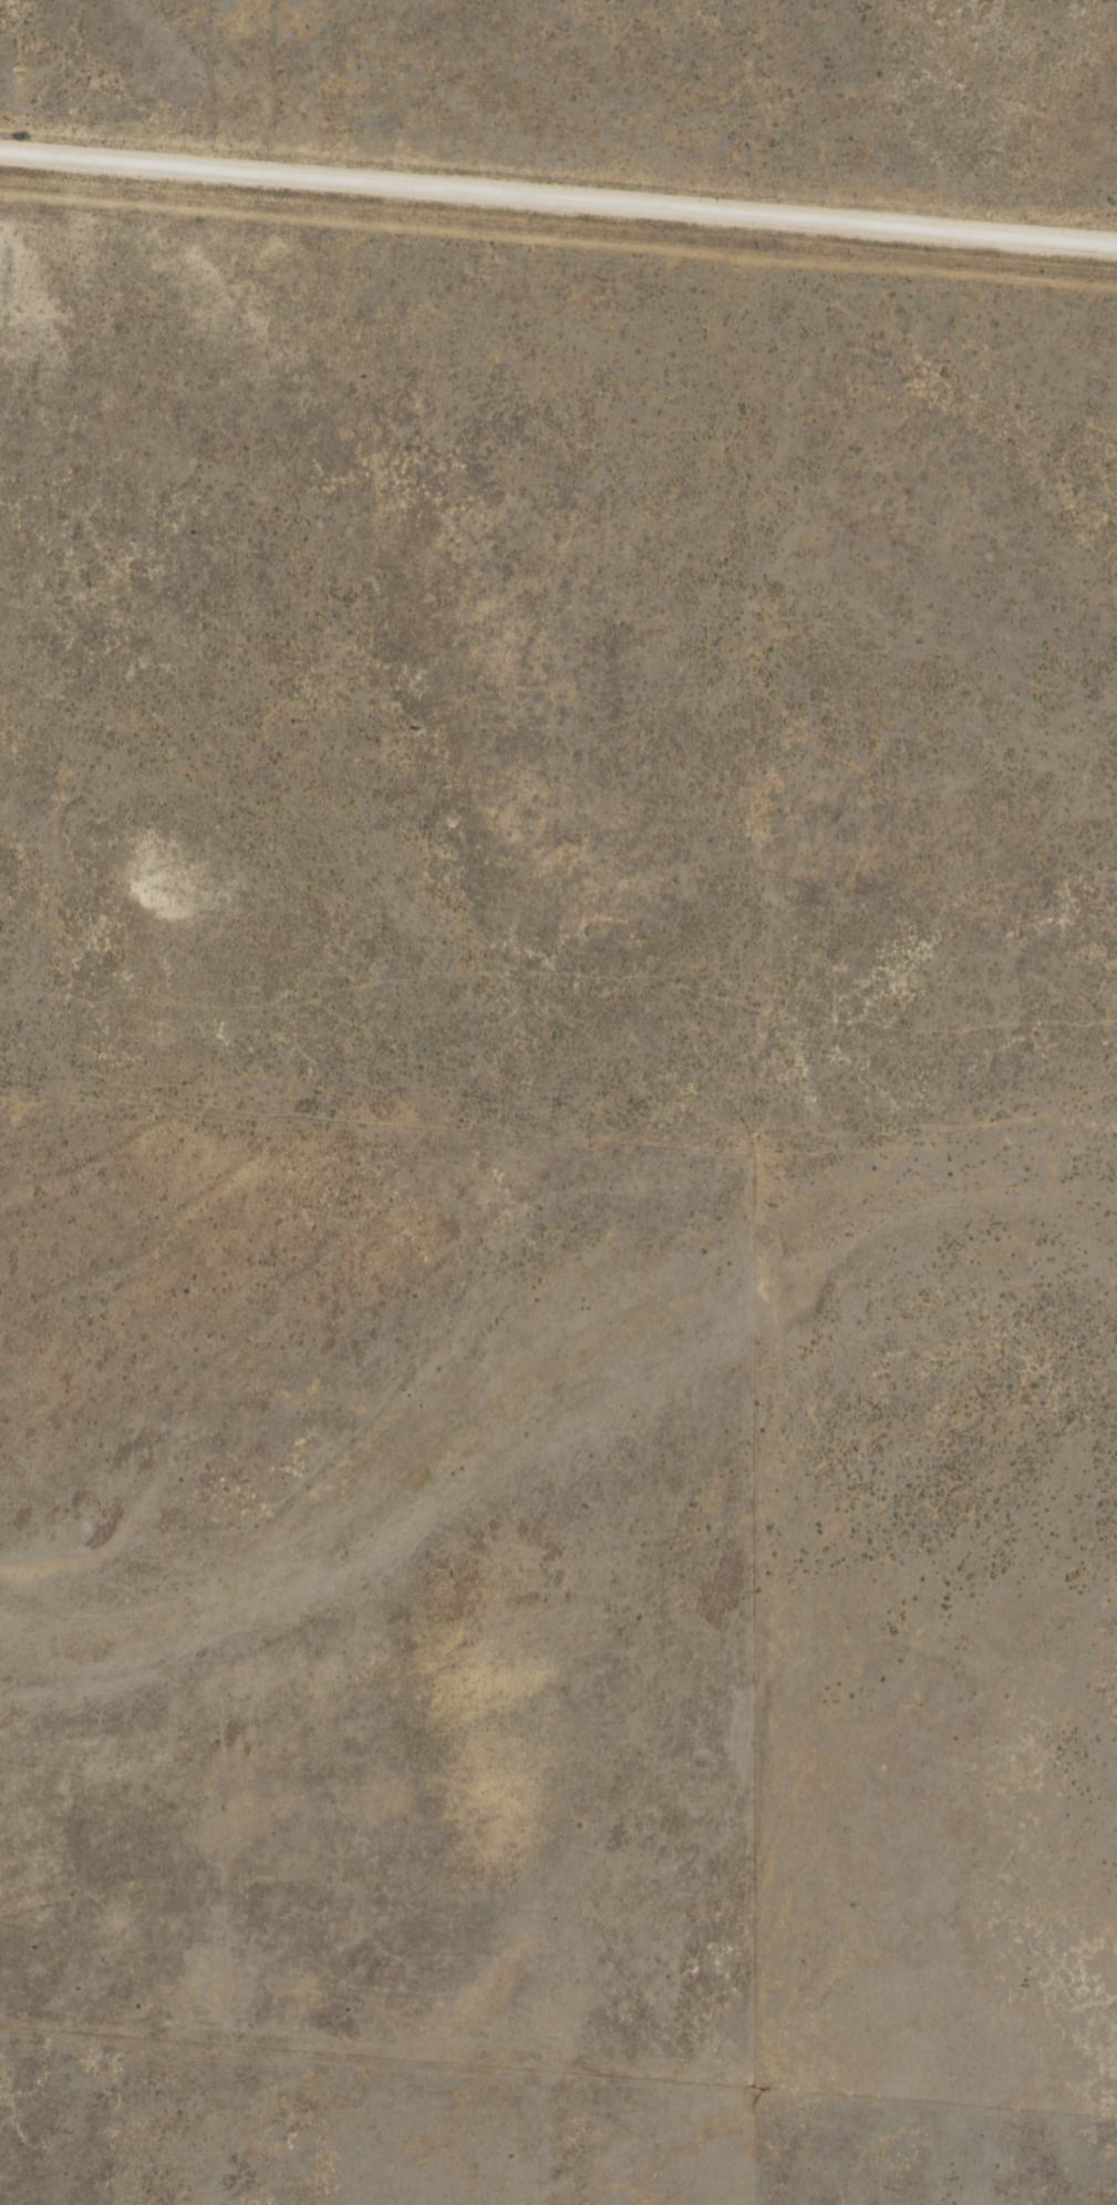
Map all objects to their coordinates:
road: (558, 204)

